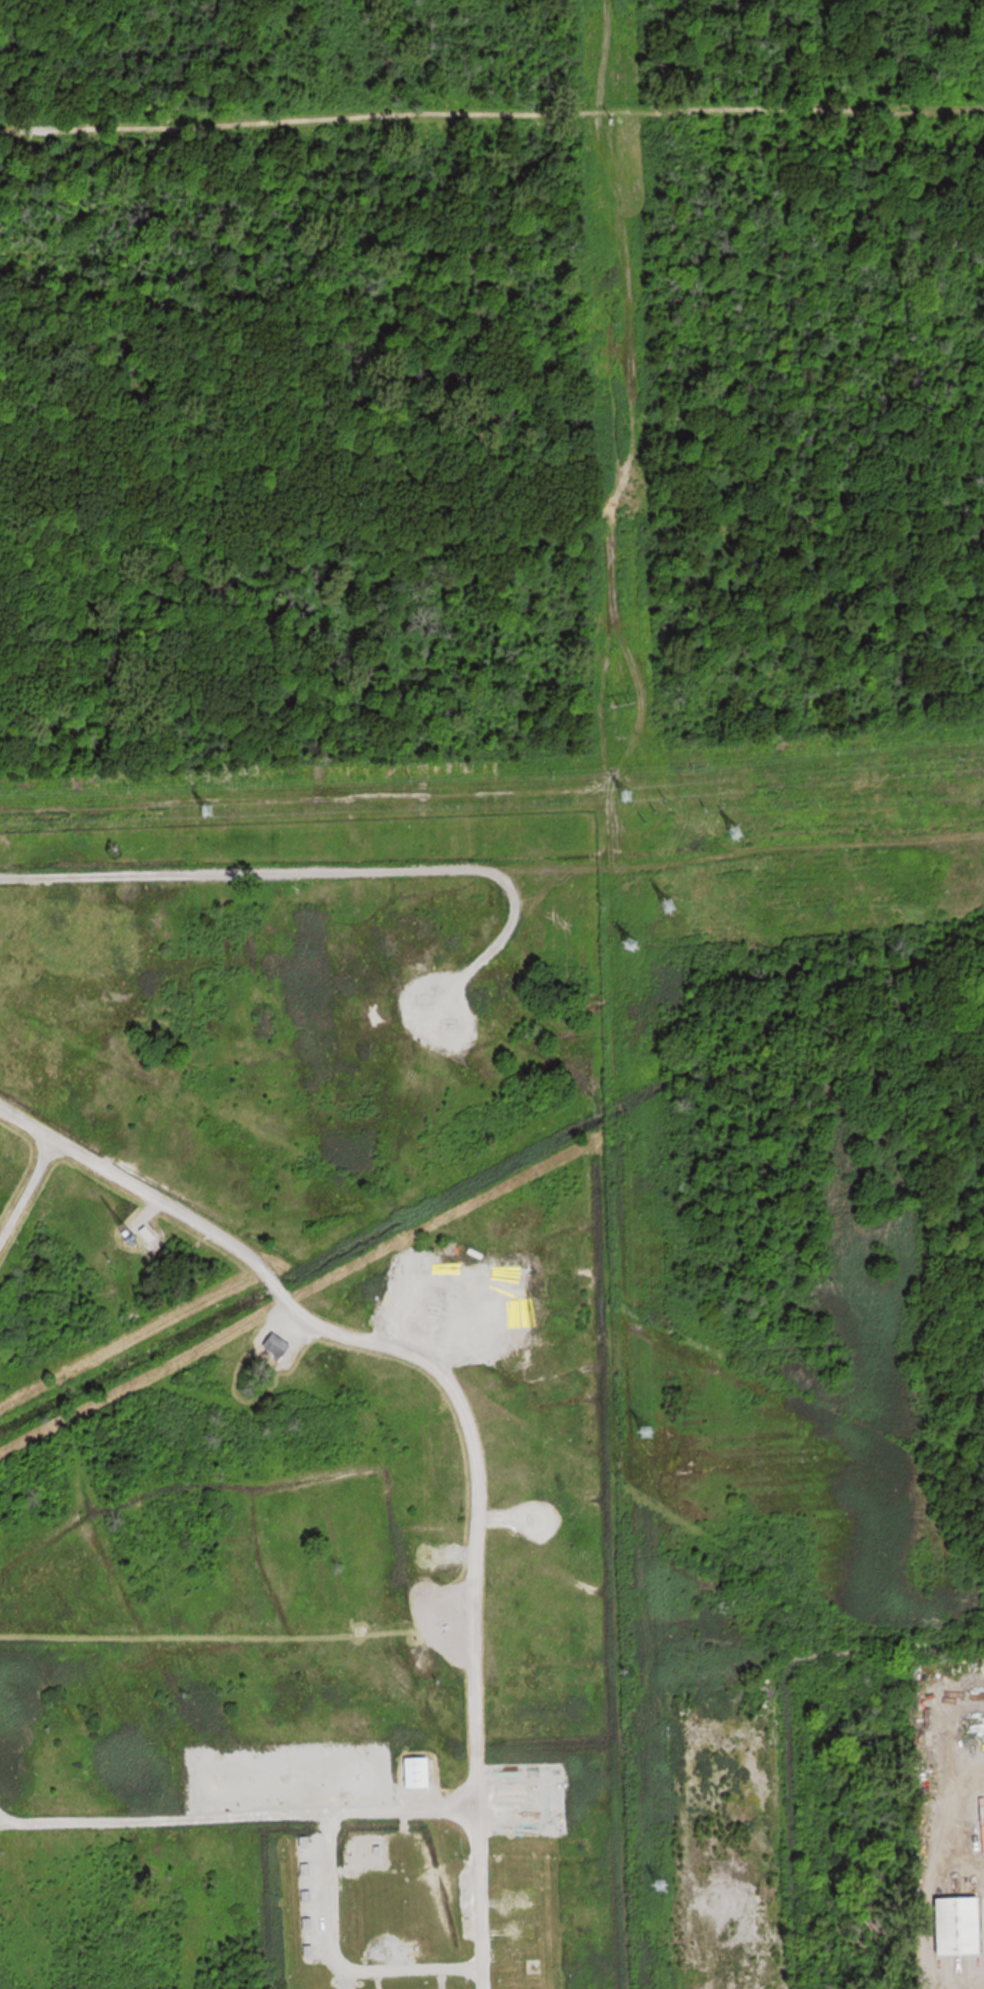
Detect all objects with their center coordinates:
power tower: (612, 112)
power tower: (618, 324)
power tower: (620, 514)
power tower: (626, 695)
power tower: (624, 786)
power tower: (205, 809)
power tower: (731, 840)
power tower: (666, 905)
power tower: (631, 944)
building: (279, 1344)
road: (465, 1417)
power tower: (650, 1434)
building: (421, 1772)
road: (249, 1815)
road: (21, 1823)
power tower: (666, 1887)
building: (962, 1925)
road: (337, 1961)

